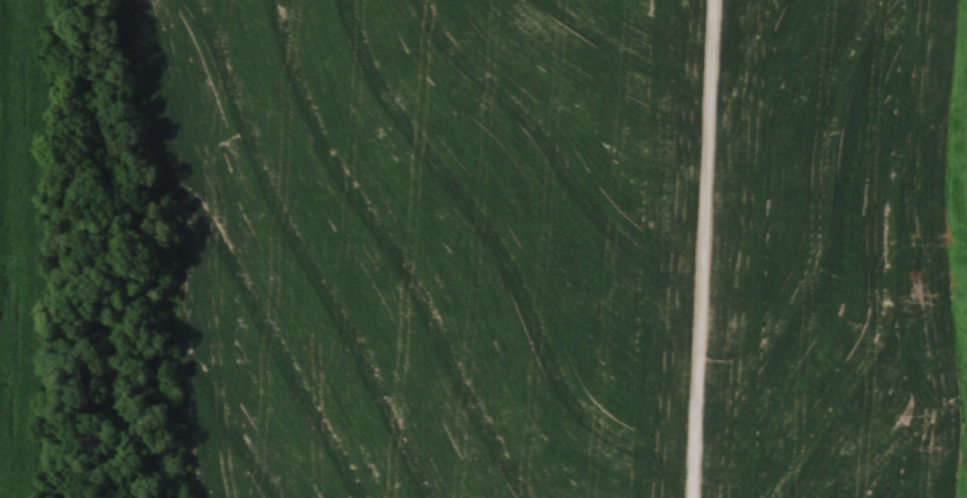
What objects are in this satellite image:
road: (706, 249)

